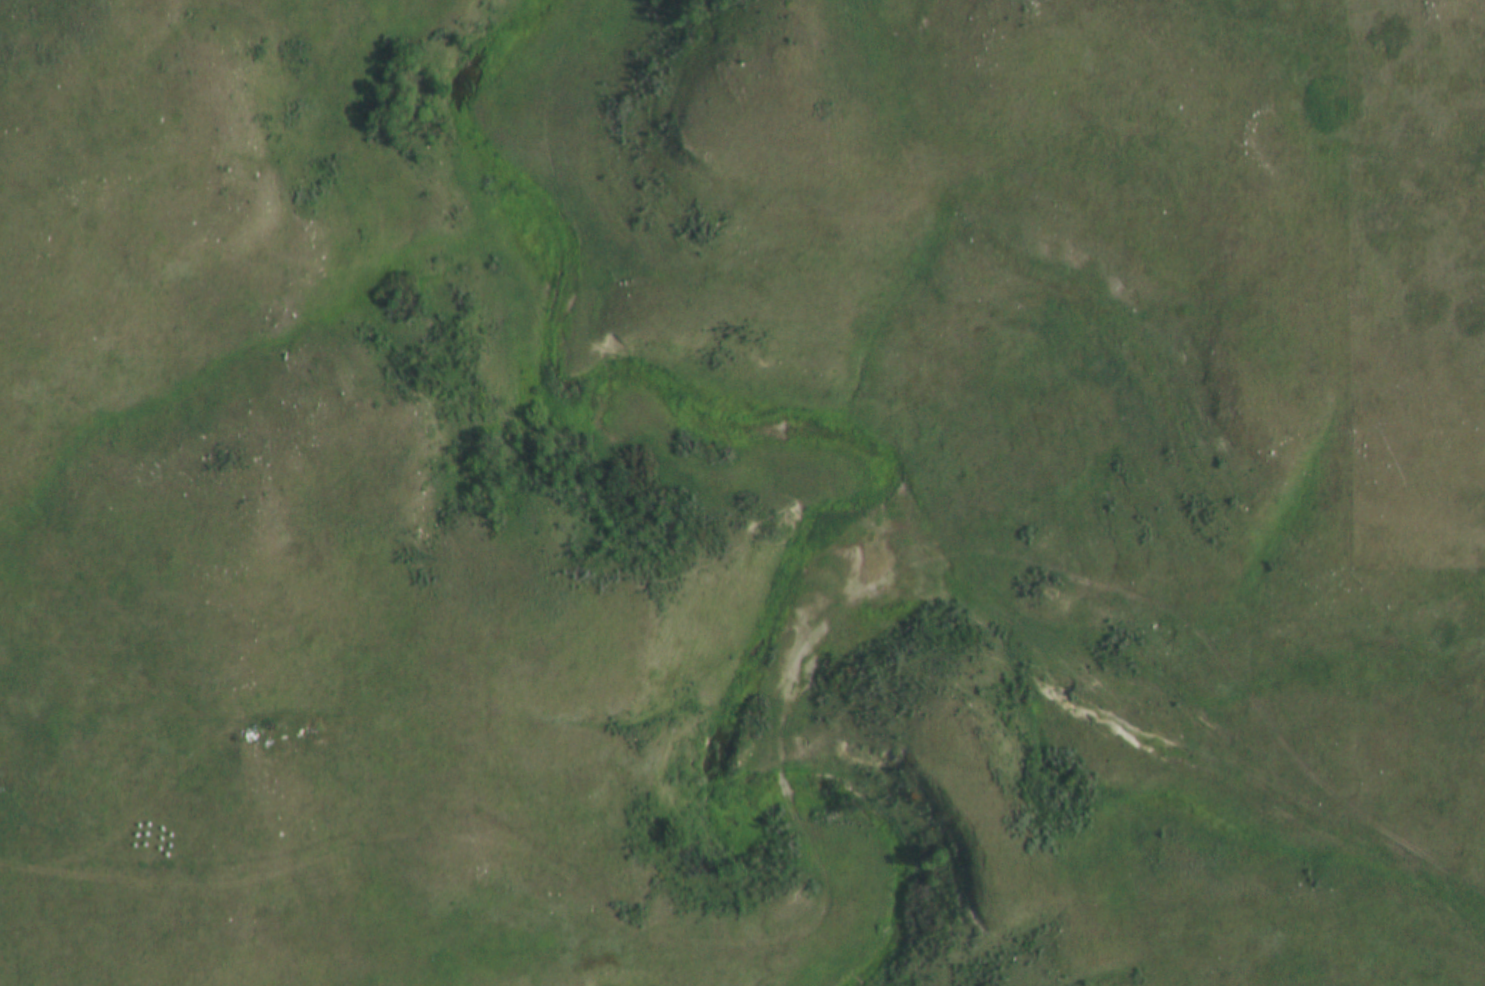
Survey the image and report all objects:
road: (799, 826)

